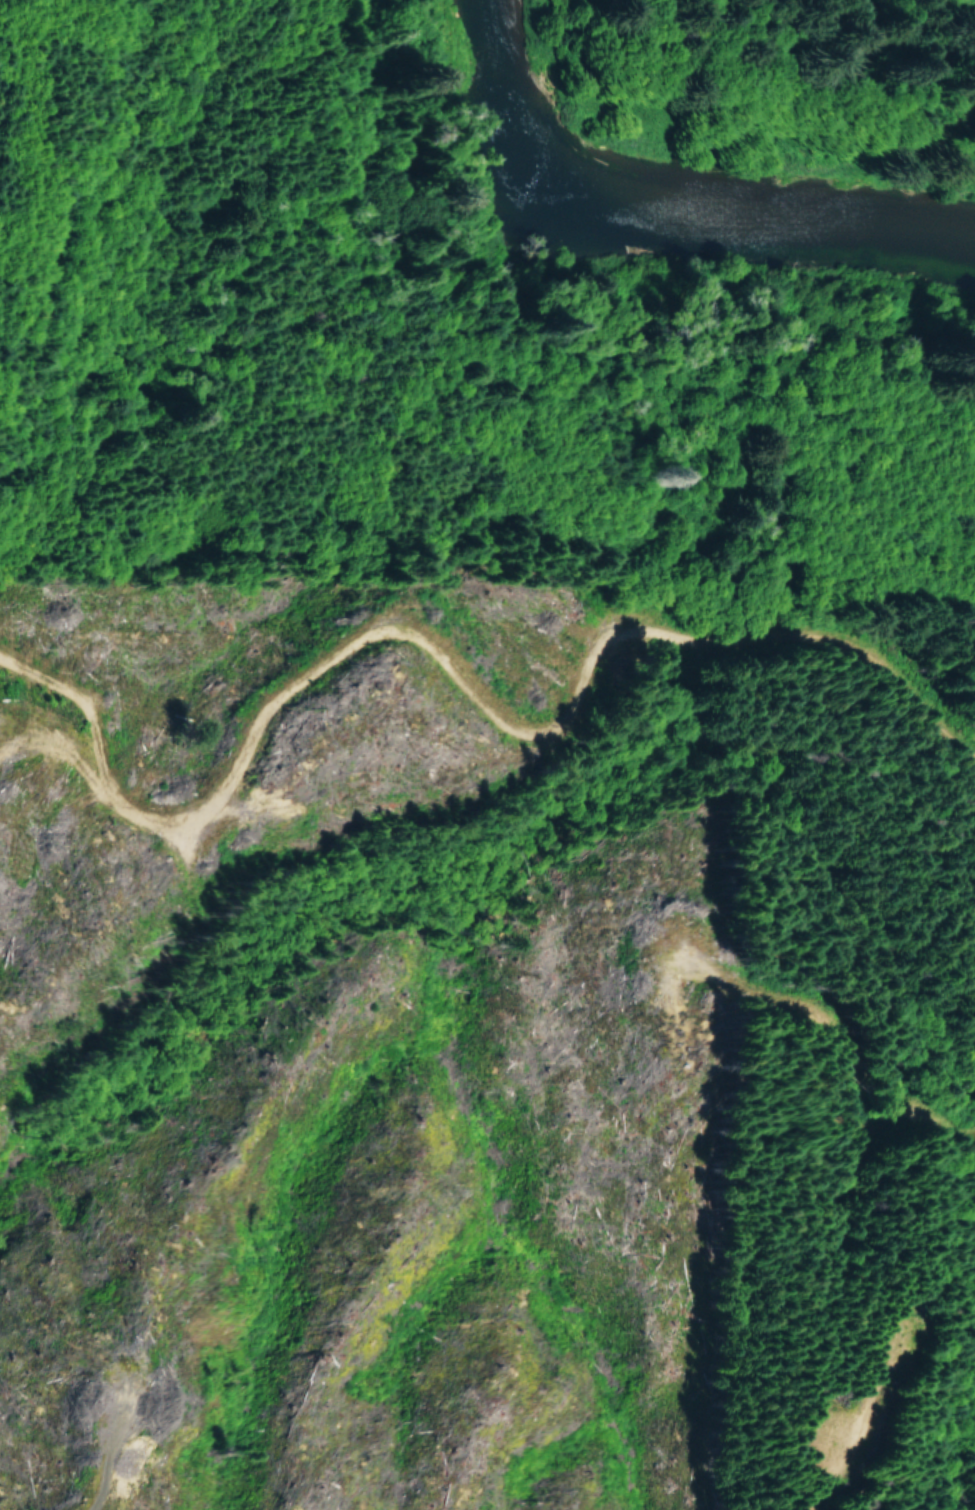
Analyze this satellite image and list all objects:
river: (663, 205)
road: (543, 569)

